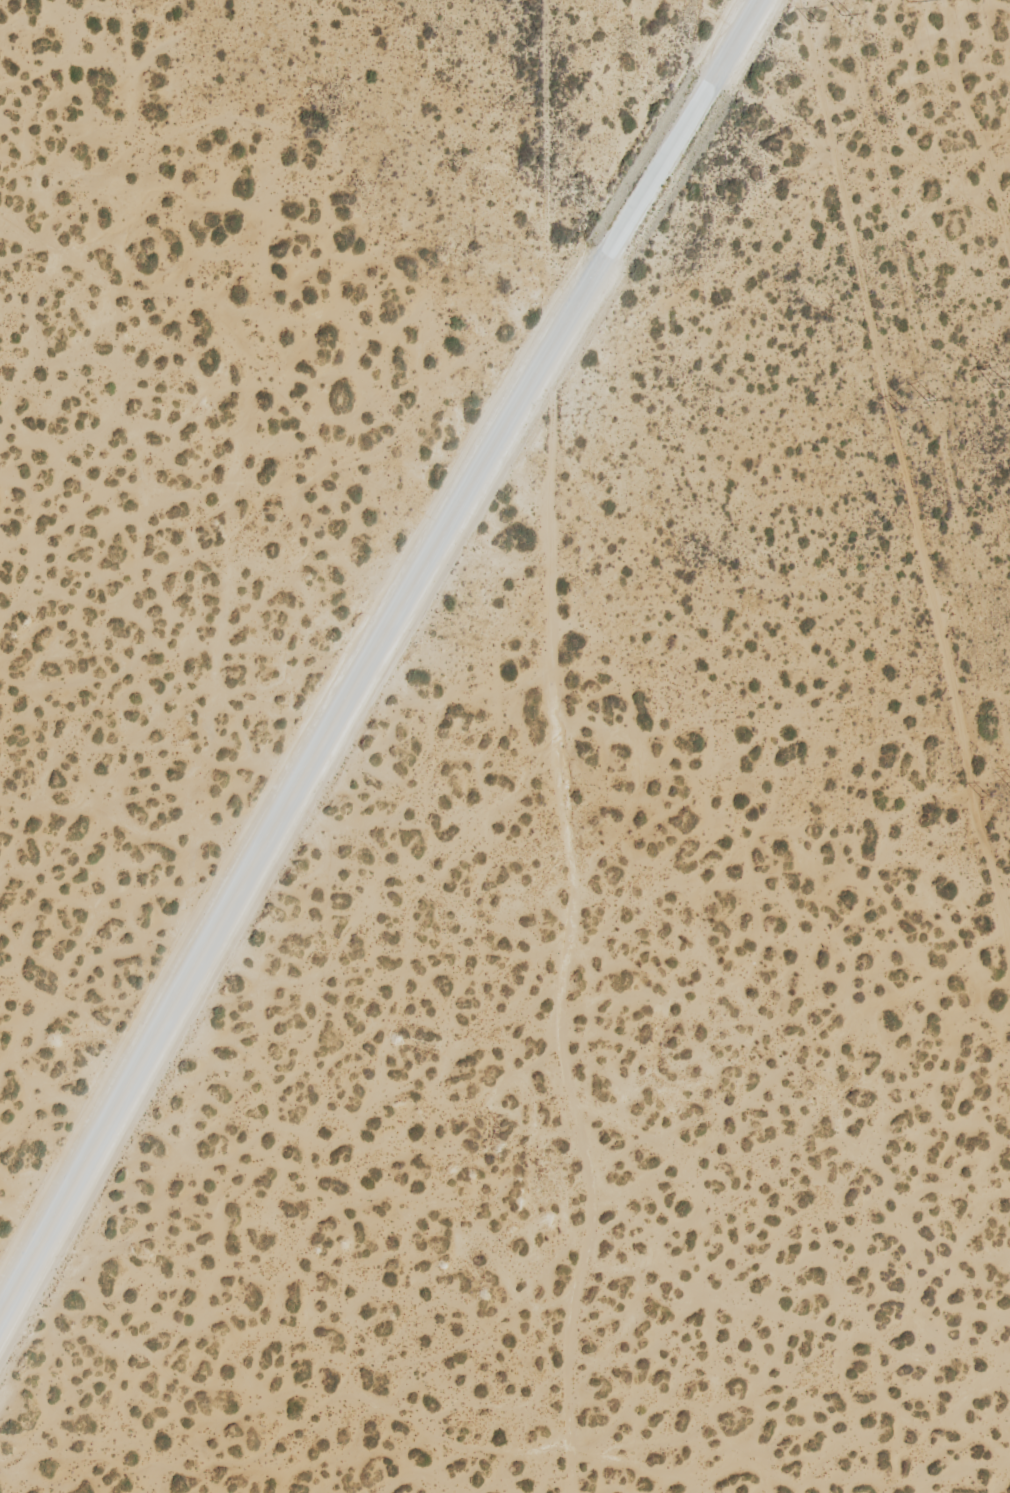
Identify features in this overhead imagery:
power tower: (914, 0)
power tower: (999, 384)
road: (375, 653)

